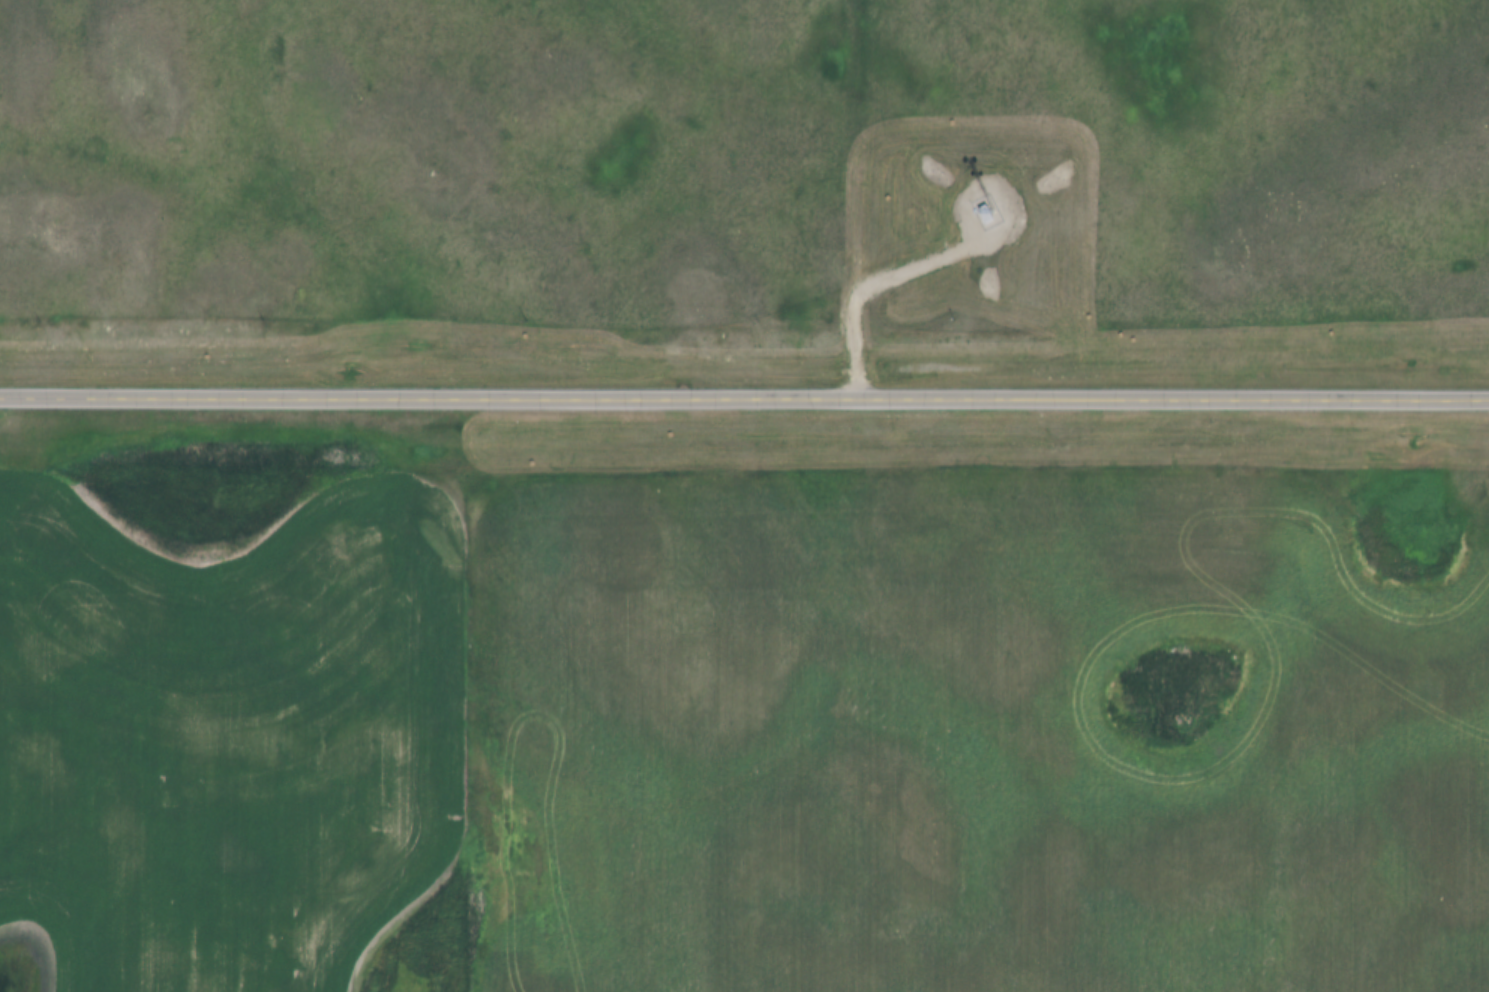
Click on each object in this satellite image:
building: (988, 202)
building: (985, 216)
road: (879, 281)
road: (605, 396)
road: (1349, 398)

